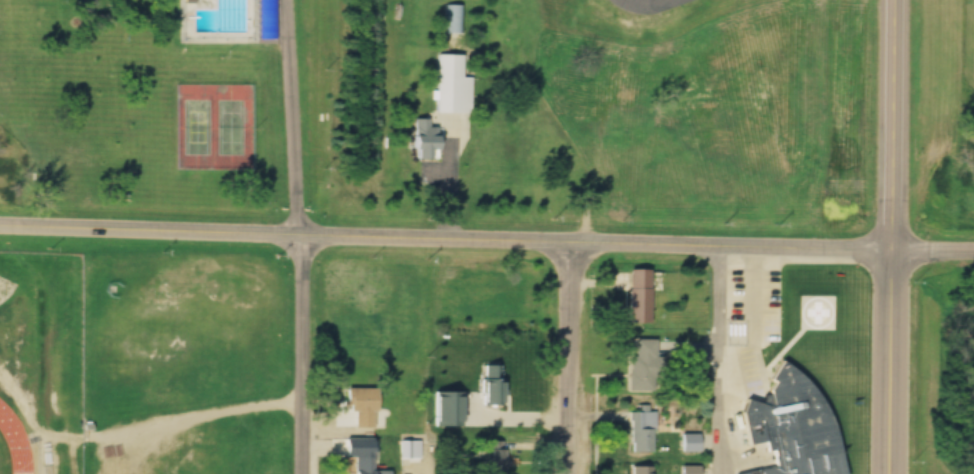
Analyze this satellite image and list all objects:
building: (453, 18)
building: (452, 94)
park: (194, 124)
park: (234, 124)
road: (887, 128)
building: (420, 143)
road: (309, 236)
road: (442, 244)
road: (930, 256)
building: (638, 296)
helipad: (825, 314)
road: (573, 361)
building: (642, 363)
road: (718, 363)
road: (886, 365)
building: (732, 380)
building: (491, 384)
building: (360, 405)
building: (642, 430)
building: (688, 441)
building: (791, 452)
building: (493, 457)
building: (365, 461)
building: (639, 468)
building: (688, 469)

